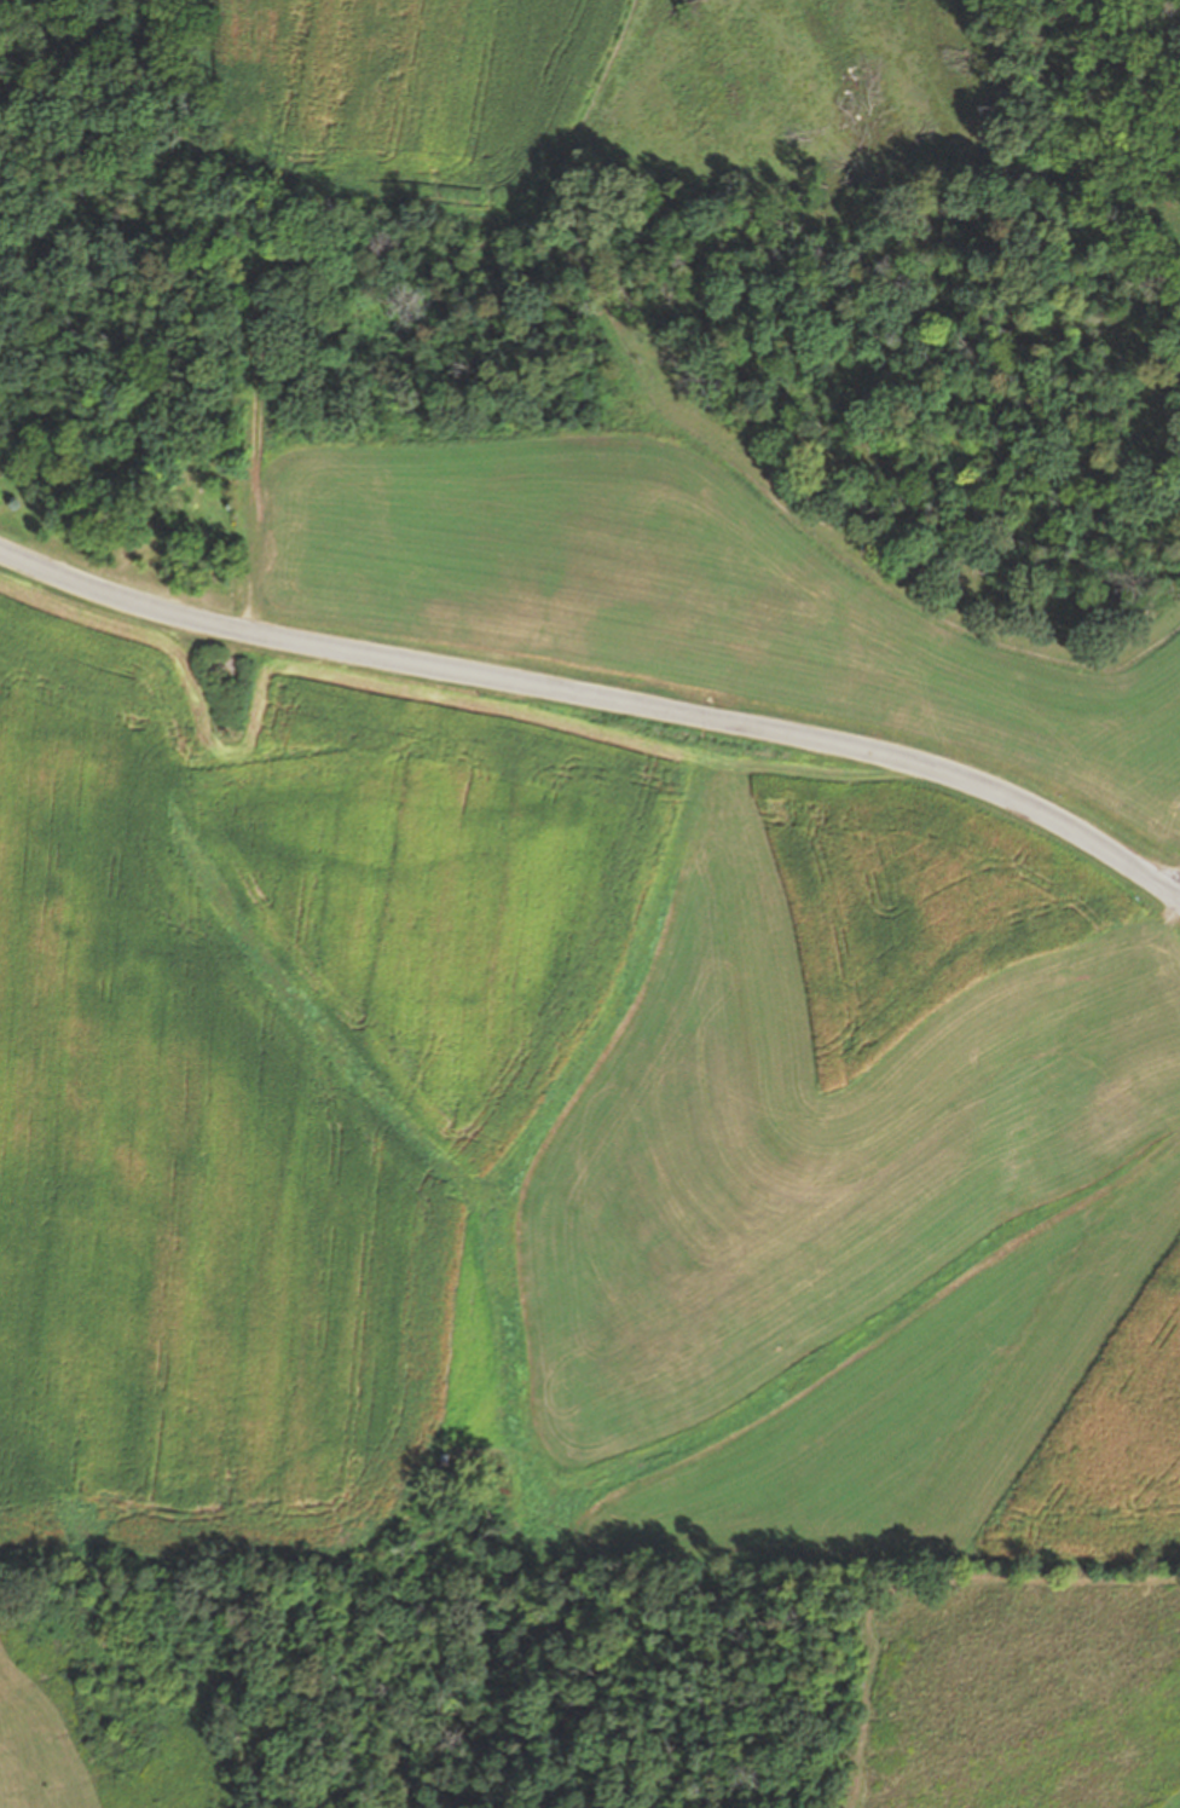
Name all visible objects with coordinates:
road: (259, 397)
road: (99, 468)
building: (184, 559)
road: (598, 698)
road: (787, 764)

